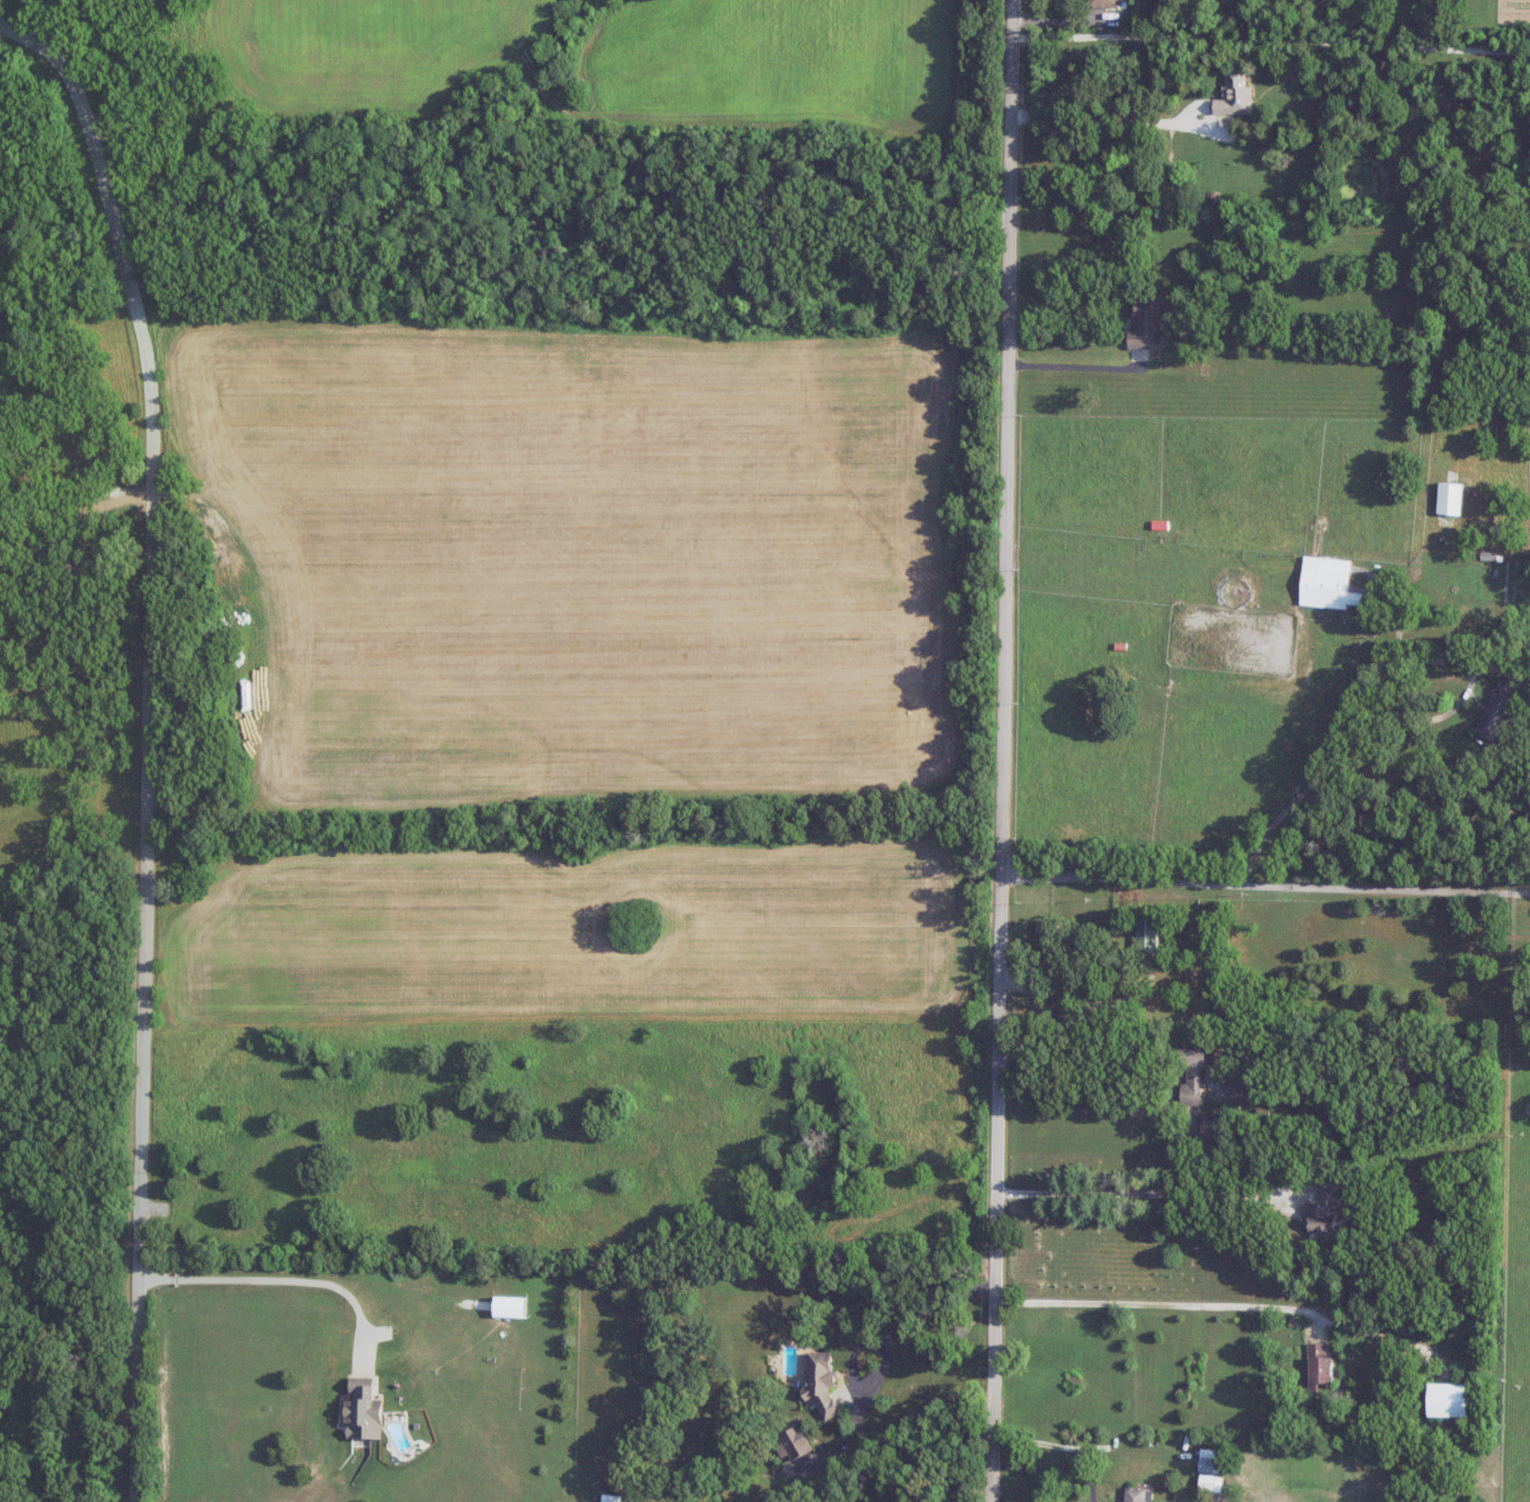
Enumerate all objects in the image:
building: (1106, 3)
road: (1270, 39)
building: (1236, 93)
building: (1148, 324)
road: (1073, 366)
building: (1452, 498)
building: (1329, 584)
road: (1385, 706)
building: (1499, 712)
road: (148, 740)
road: (1002, 750)
road: (1265, 884)
building: (1148, 932)
building: (1050, 939)
building: (1194, 1075)
road: (1138, 1103)
building: (1218, 1127)
building: (1328, 1191)
road: (1140, 1193)
building: (1323, 1222)
road: (276, 1279)
road: (1160, 1305)
road: (890, 1342)
building: (1321, 1373)
building: (823, 1383)
building: (1451, 1402)
building: (364, 1409)
building: (1212, 1466)
road: (1054, 1471)
building: (1136, 1495)
building: (612, 1499)

